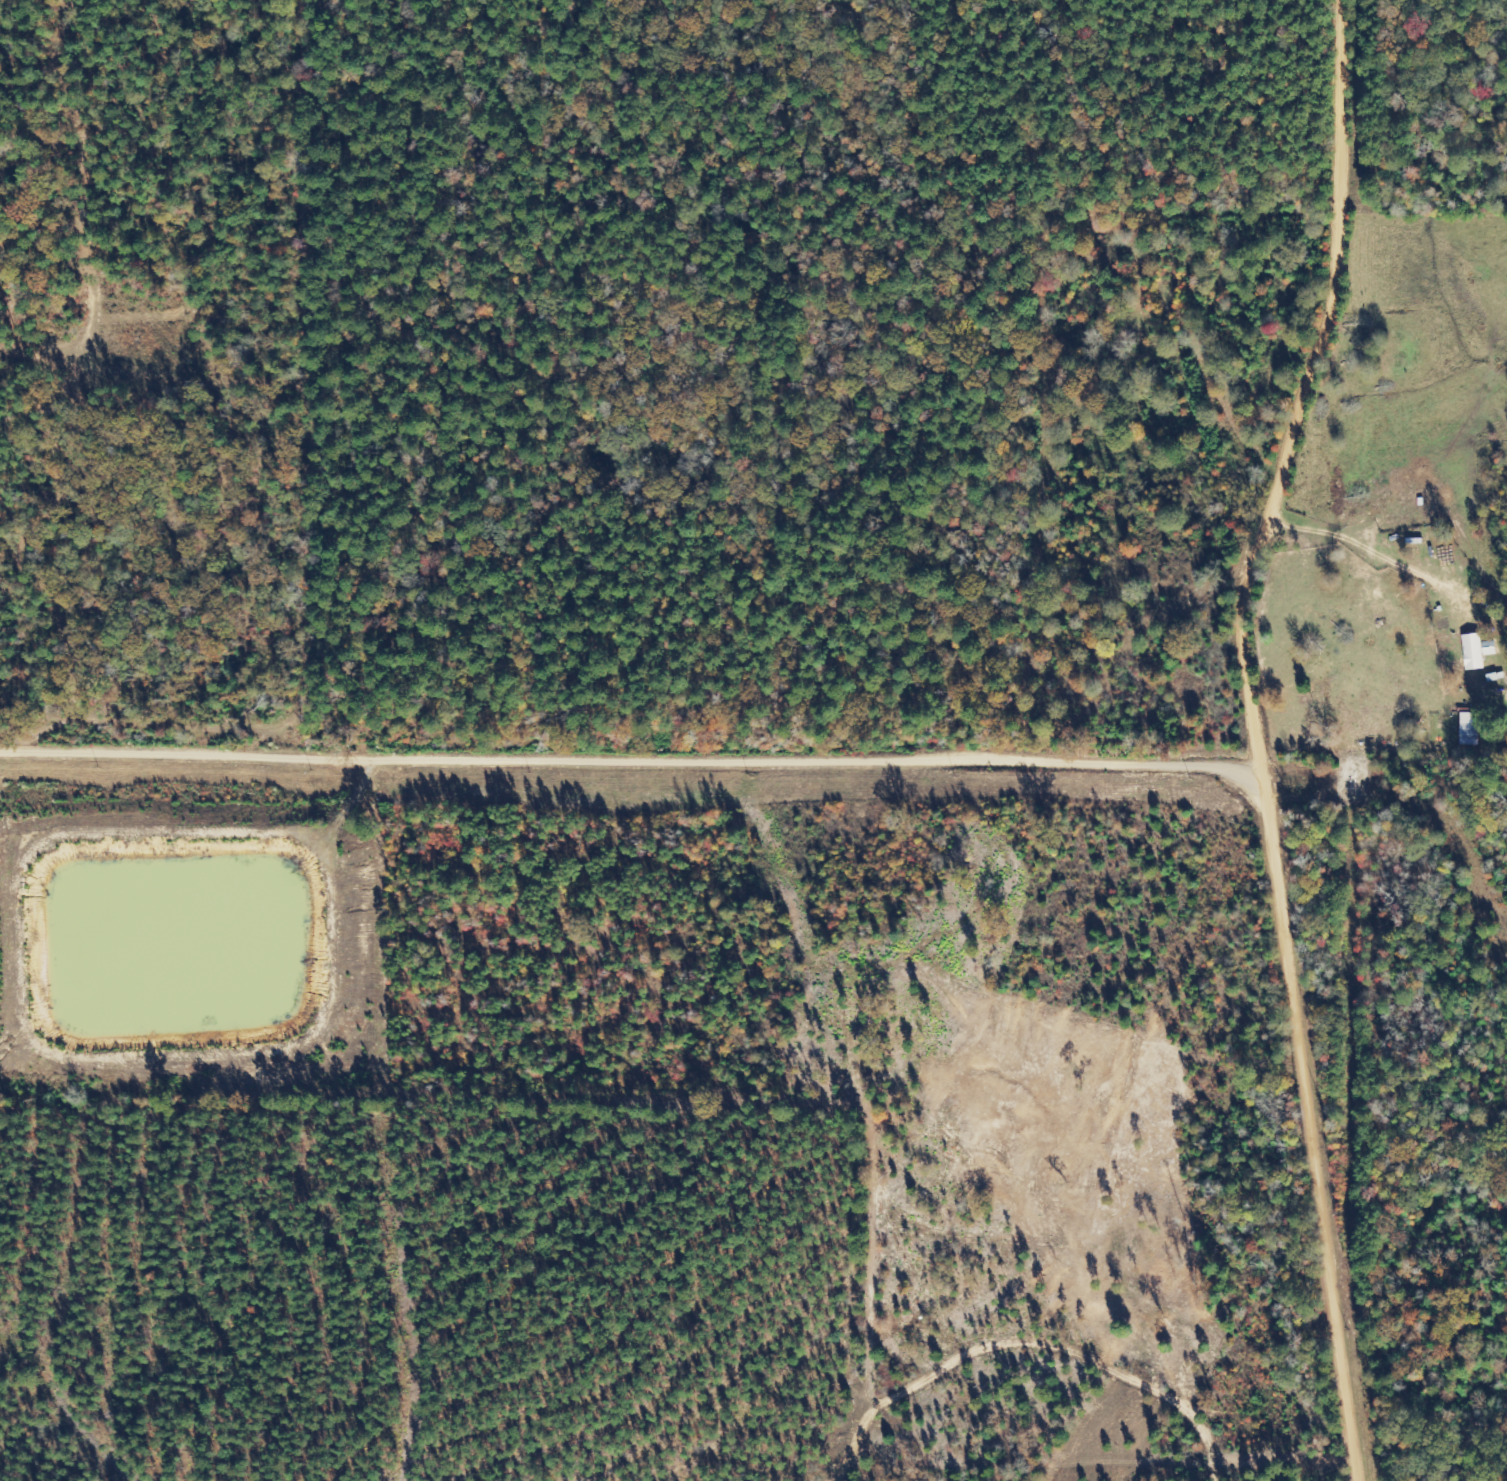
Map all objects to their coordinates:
road: (1369, 548)
building: (1475, 651)
building: (1471, 728)
road: (1262, 737)

